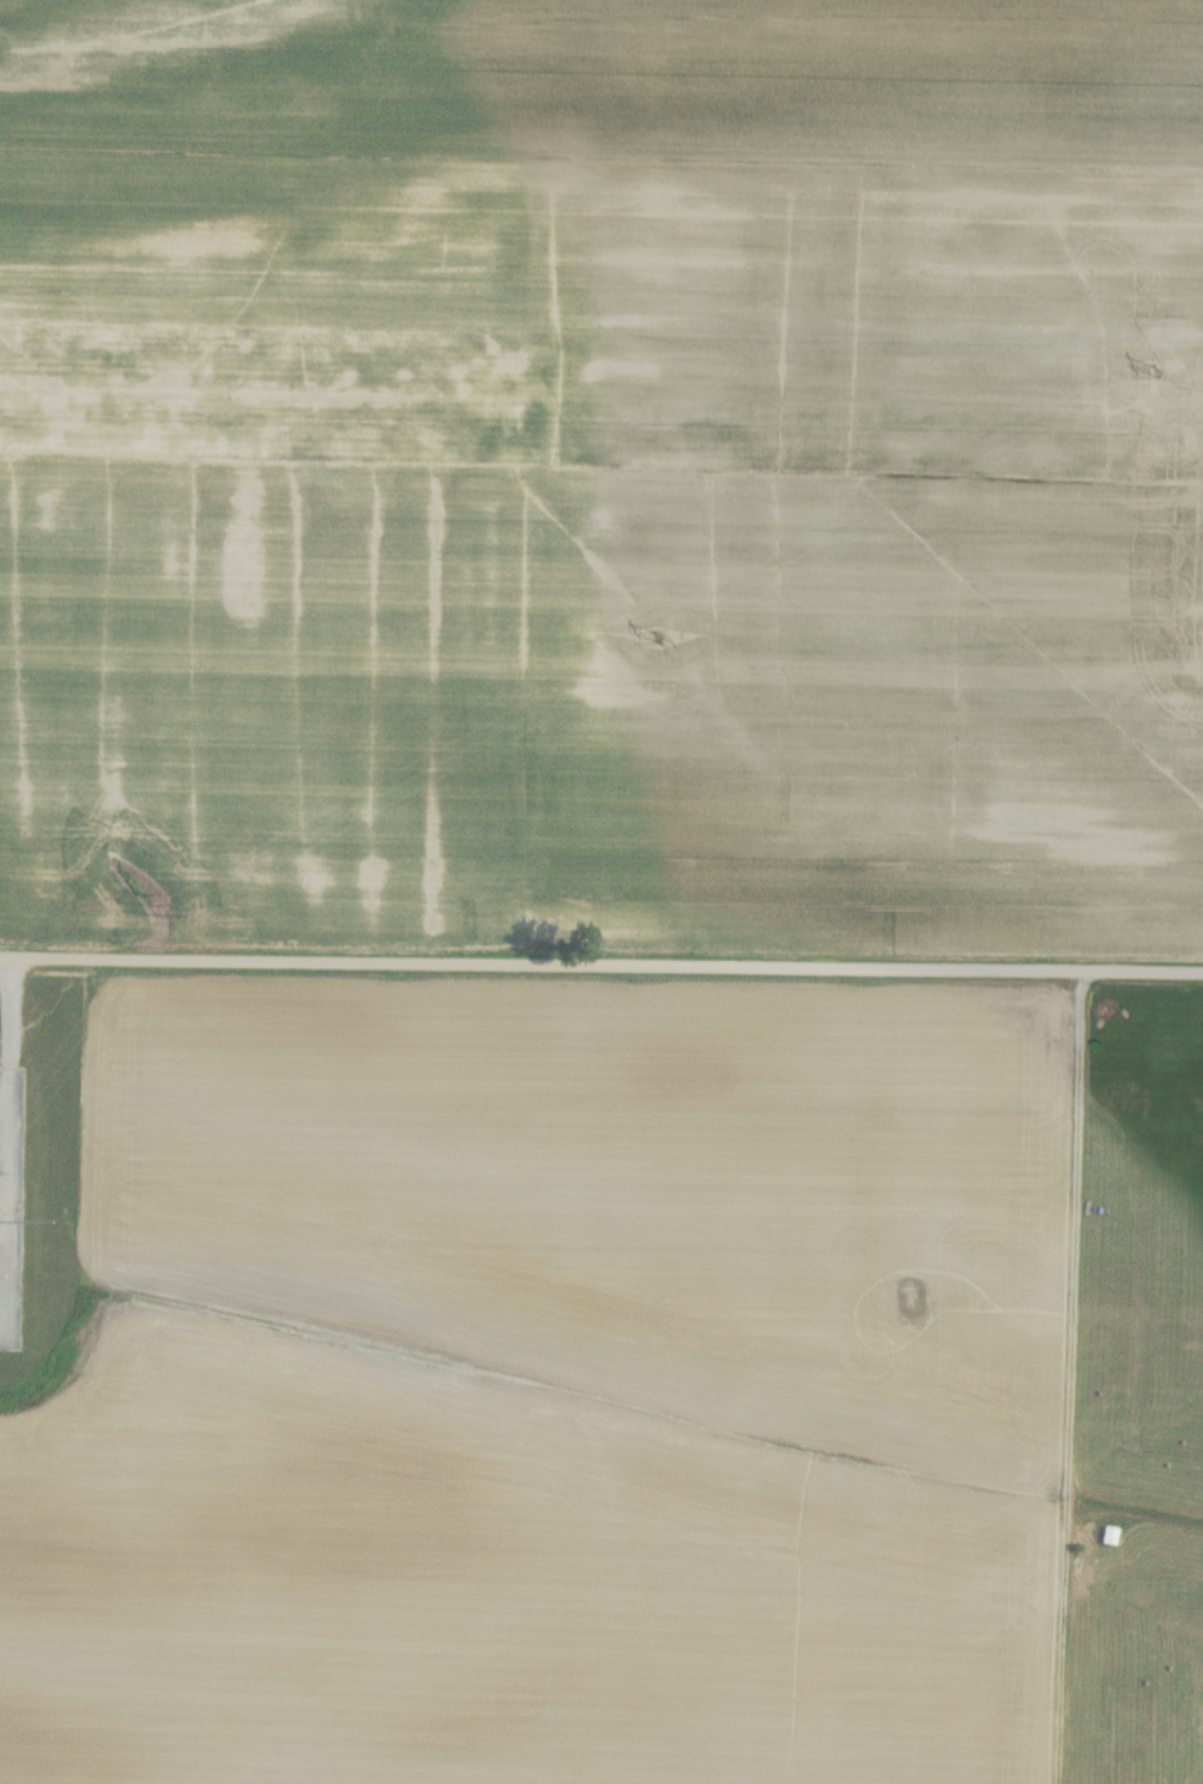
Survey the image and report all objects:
road: (600, 966)
road: (6, 1124)
road: (1075, 1266)

